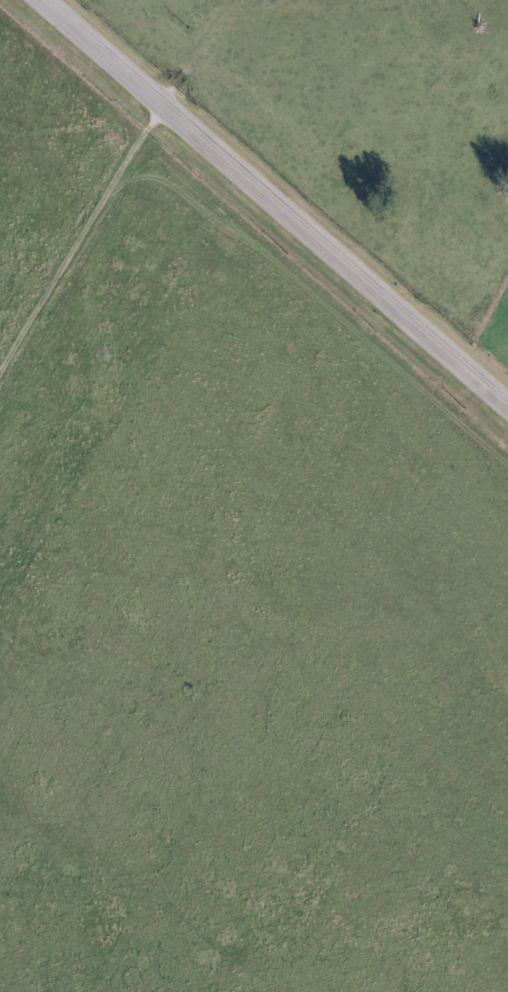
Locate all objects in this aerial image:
railway: (311, 166)
road: (275, 202)

